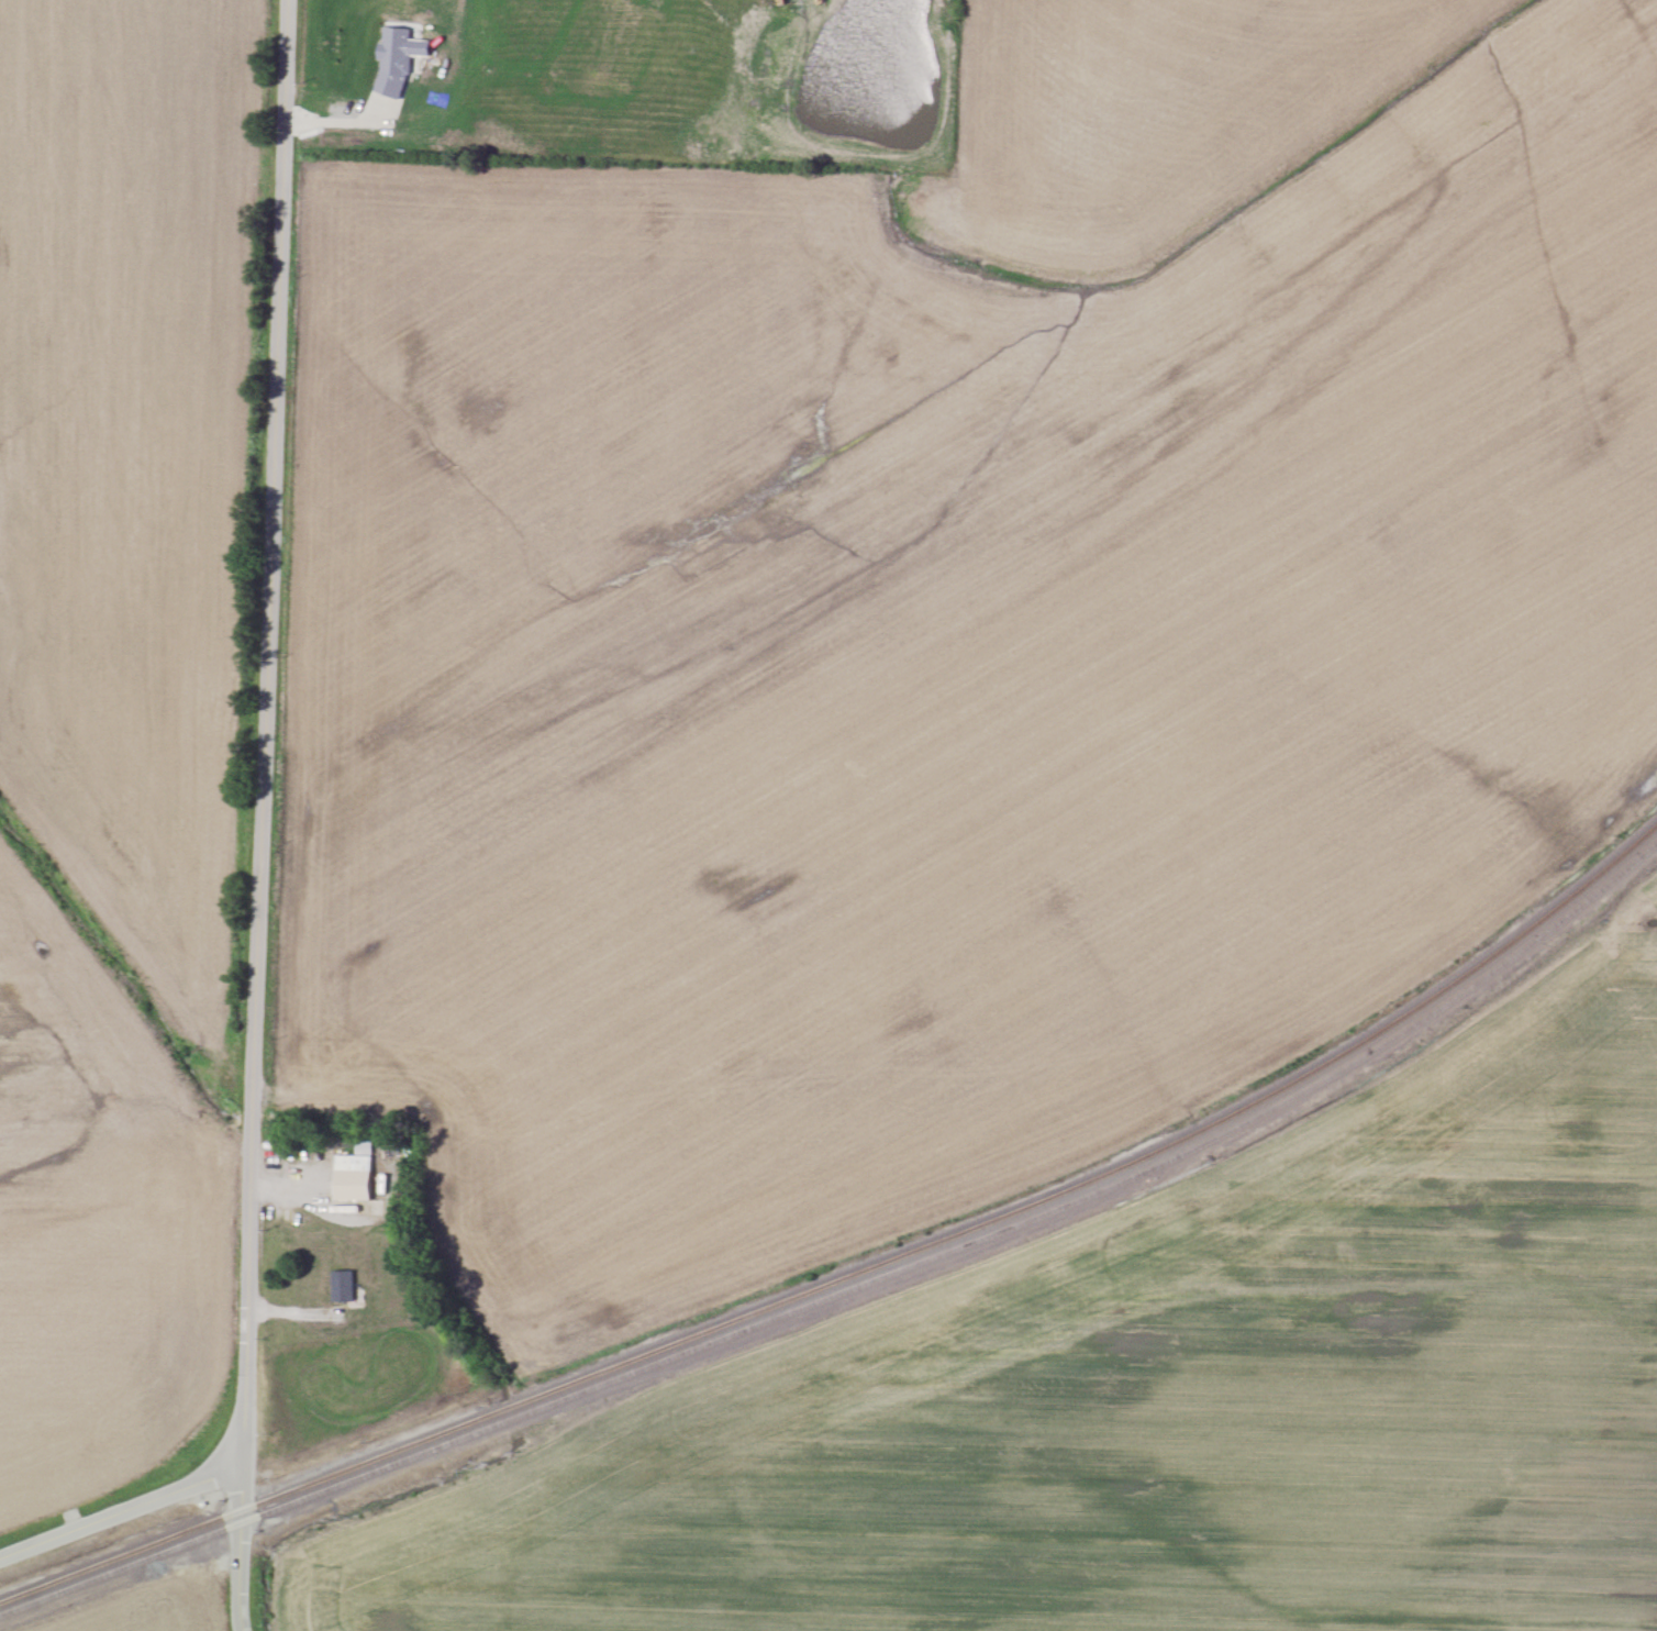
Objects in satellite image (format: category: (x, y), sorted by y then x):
building: (398, 59)
crop: (1159, 110)
crop: (136, 463)
crop: (935, 669)
road: (263, 812)
building: (354, 1174)
road: (286, 1186)
crop: (99, 1229)
railway: (859, 1276)
building: (342, 1285)
road: (291, 1312)
crop: (1159, 1399)
road: (122, 1509)
road: (238, 1628)

